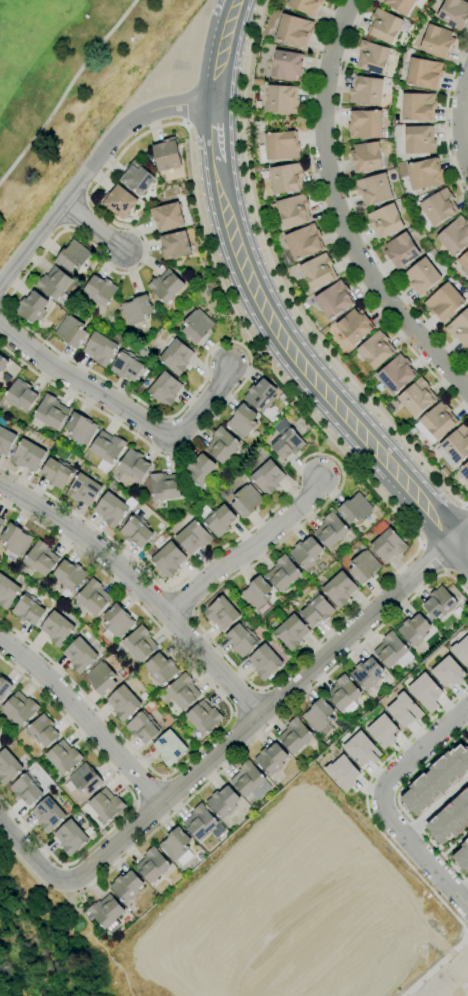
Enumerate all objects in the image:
building: (400, 5)
building: (306, 6)
building: (454, 13)
building: (384, 26)
building: (294, 30)
building: (437, 41)
road: (223, 50)
building: (372, 57)
building: (287, 66)
building: (424, 73)
park: (68, 87)
road: (66, 91)
building: (366, 91)
building: (282, 99)
building: (418, 107)
road: (465, 116)
road: (462, 118)
road: (446, 122)
building: (365, 125)
road: (215, 133)
building: (420, 140)
building: (282, 146)
building: (166, 155)
building: (366, 157)
road: (91, 168)
building: (425, 174)
building: (137, 178)
building: (286, 178)
building: (374, 189)
road: (350, 200)
building: (120, 202)
building: (439, 207)
building: (293, 211)
road: (339, 214)
building: (167, 217)
building: (385, 221)
road: (95, 226)
road: (328, 227)
building: (455, 236)
building: (304, 242)
building: (175, 246)
building: (401, 250)
building: (73, 256)
building: (464, 261)
building: (318, 271)
building: (421, 277)
road: (281, 283)
building: (55, 285)
building: (166, 286)
building: (101, 291)
building: (334, 300)
building: (444, 302)
road: (232, 306)
building: (32, 307)
building: (137, 310)
building: (197, 326)
building: (354, 326)
building: (459, 328)
building: (72, 331)
building: (100, 349)
building: (376, 350)
building: (467, 353)
building: (176, 356)
building: (3, 363)
building: (127, 366)
road: (306, 369)
building: (395, 375)
building: (165, 389)
building: (21, 395)
building: (261, 395)
building: (417, 398)
road: (123, 407)
building: (50, 411)
building: (243, 421)
building: (437, 422)
building: (80, 429)
building: (5, 439)
building: (286, 440)
building: (222, 445)
building: (455, 446)
building: (107, 450)
building: (28, 455)
building: (134, 465)
building: (199, 469)
building: (465, 470)
building: (57, 472)
building: (268, 477)
building: (165, 486)
building: (84, 490)
building: (246, 501)
road: (466, 505)
building: (111, 509)
building: (355, 509)
building: (220, 521)
building: (1, 522)
road: (441, 525)
building: (331, 530)
building: (136, 531)
road: (462, 535)
building: (192, 536)
building: (15, 540)
building: (388, 545)
road: (462, 546)
road: (247, 550)
building: (306, 553)
building: (41, 558)
building: (166, 558)
road: (433, 559)
road: (457, 564)
building: (364, 567)
building: (283, 574)
building: (70, 576)
road: (140, 587)
building: (340, 589)
building: (7, 592)
building: (257, 593)
building: (93, 597)
building: (439, 603)
building: (28, 610)
building: (317, 611)
building: (221, 613)
building: (116, 623)
building: (57, 629)
building: (414, 630)
building: (291, 632)
building: (241, 640)
building: (140, 644)
building: (390, 650)
building: (461, 651)
building: (80, 655)
building: (265, 662)
building: (161, 669)
building: (448, 672)
building: (367, 674)
building: (101, 679)
building: (4, 688)
road: (260, 690)
building: (425, 691)
building: (183, 692)
building: (343, 695)
road: (247, 702)
building: (124, 703)
building: (20, 708)
building: (403, 710)
road: (261, 713)
road: (233, 714)
road: (230, 715)
building: (319, 716)
building: (203, 717)
road: (83, 718)
road: (271, 724)
building: (143, 727)
building: (43, 731)
building: (382, 731)
building: (467, 734)
building: (295, 736)
road: (464, 738)
building: (170, 748)
building: (360, 749)
road: (420, 750)
building: (63, 758)
building: (271, 759)
building: (8, 767)
building: (342, 772)
road: (163, 778)
building: (435, 779)
building: (84, 780)
building: (250, 781)
building: (26, 789)
road: (150, 792)
road: (132, 797)
building: (223, 802)
road: (397, 802)
road: (135, 803)
building: (106, 805)
road: (435, 808)
building: (48, 815)
road: (368, 816)
building: (450, 819)
building: (199, 822)
building: (70, 837)
road: (455, 844)
building: (176, 847)
road: (421, 855)
road: (29, 856)
building: (462, 856)
building: (152, 865)
road: (64, 866)
road: (63, 875)
road: (93, 886)
building: (126, 887)
road: (462, 888)
building: (106, 913)
road: (465, 934)
road: (425, 974)
road: (447, 976)
road: (459, 988)
road: (433, 994)

